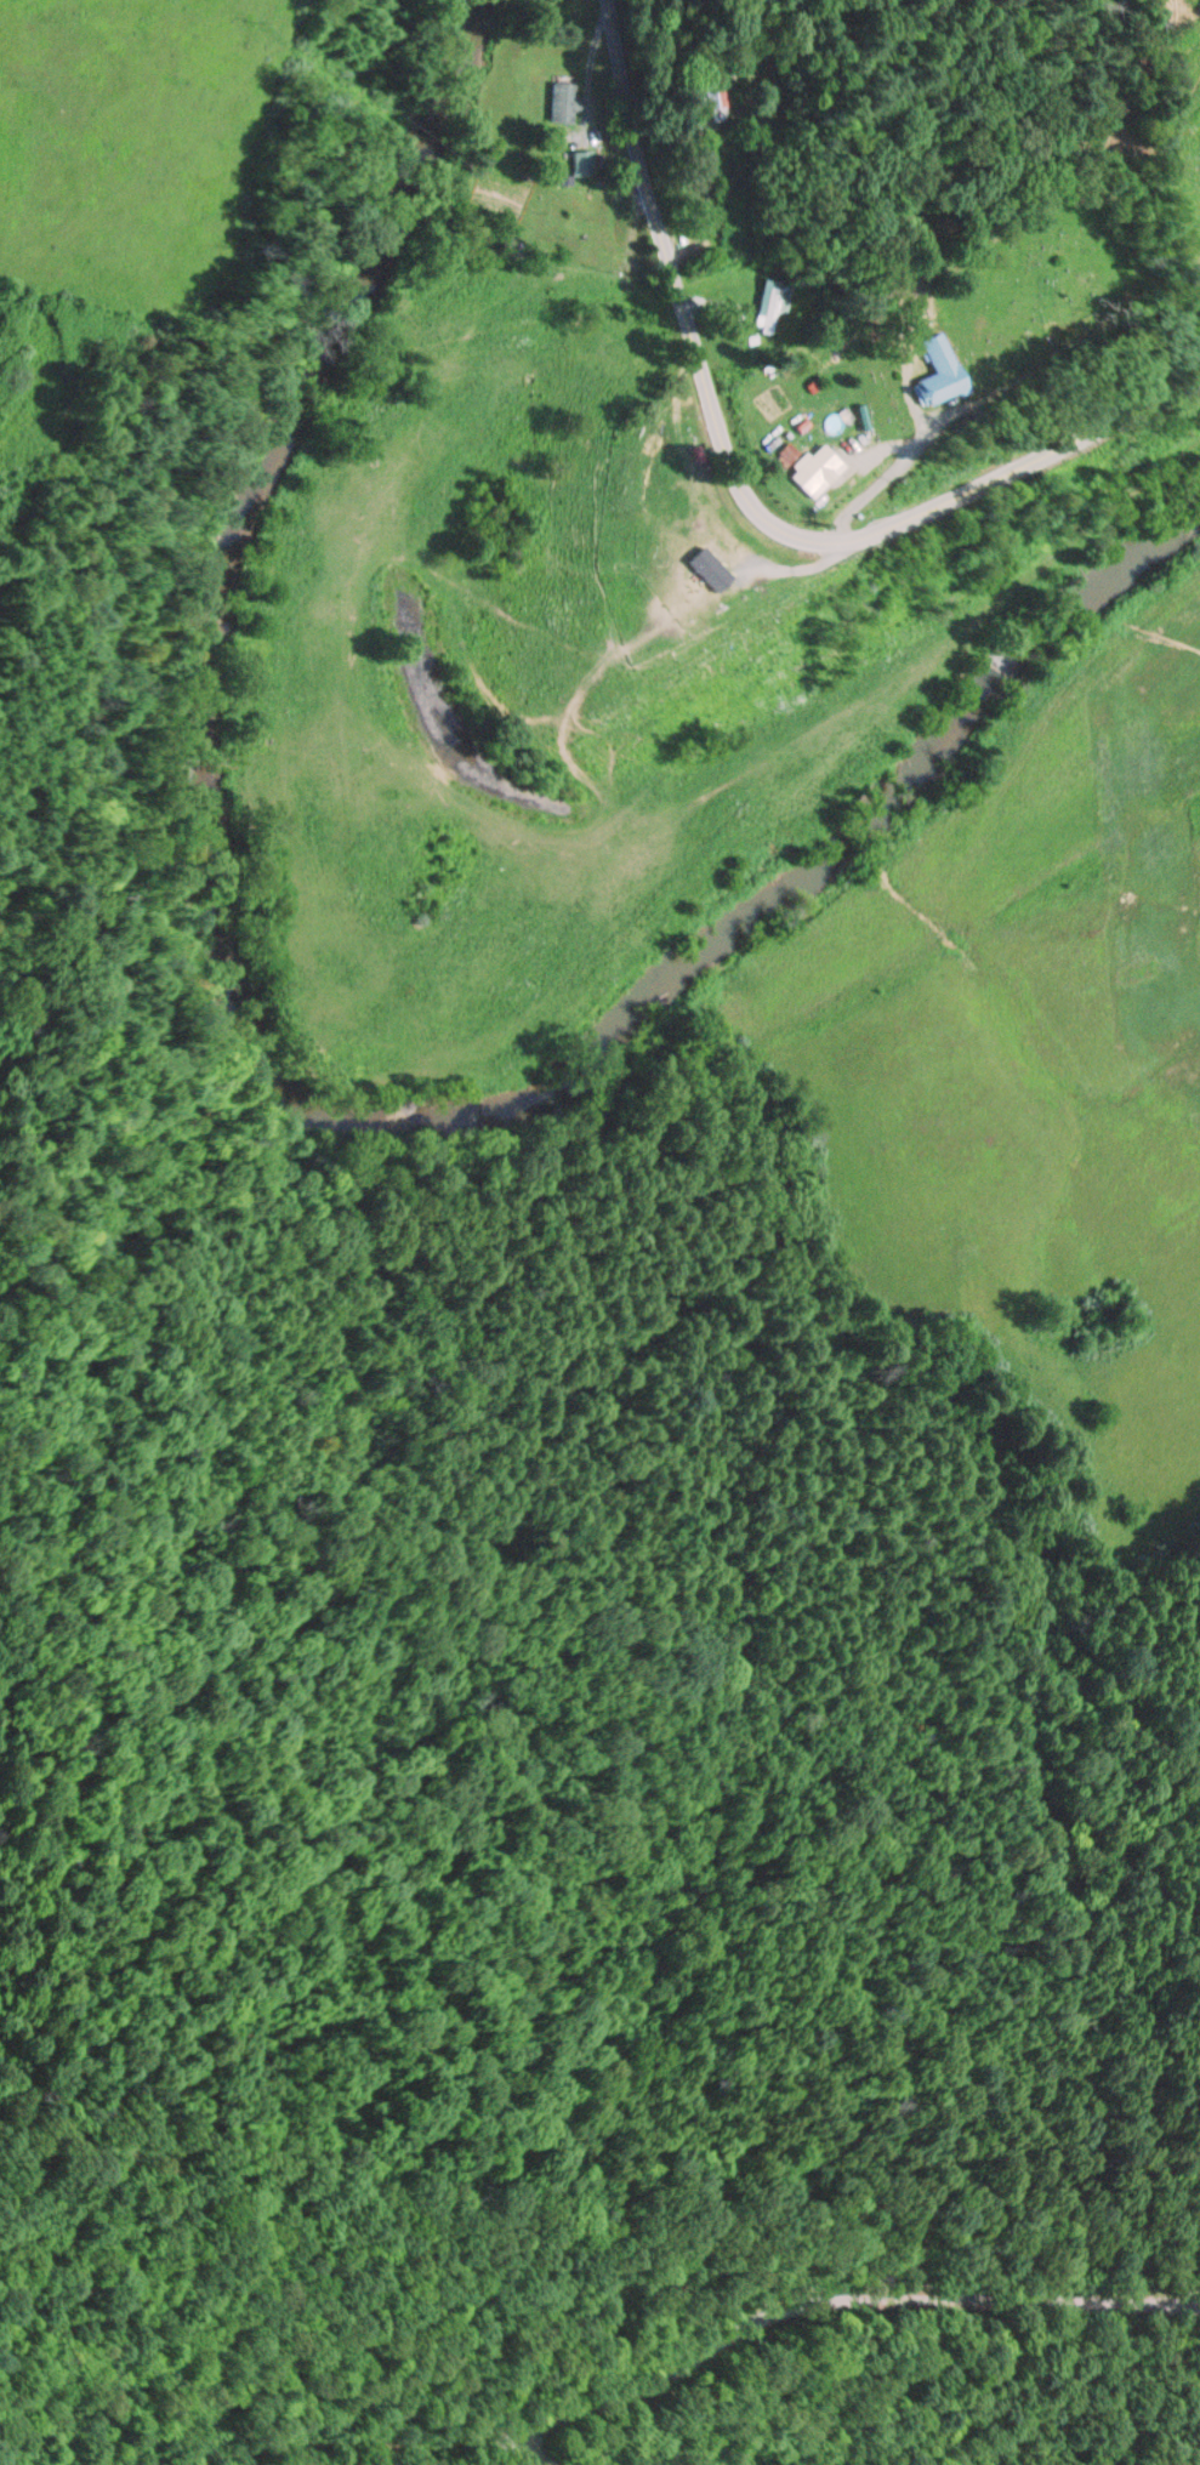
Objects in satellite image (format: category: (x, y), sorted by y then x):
building: (701, 92)
building: (556, 102)
building: (576, 161)
road: (703, 211)
park: (977, 297)
road: (711, 300)
building: (769, 311)
building: (931, 372)
road: (866, 450)
building: (800, 459)
road: (875, 479)
road: (741, 491)
building: (707, 553)
road: (800, 567)
building: (706, 599)
river: (271, 1091)

